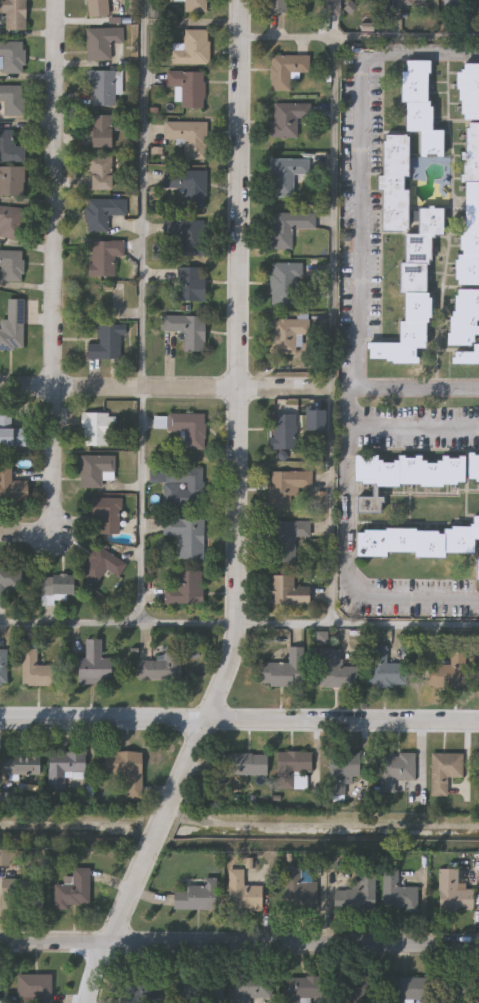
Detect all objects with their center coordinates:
building: (461, 0)
building: (406, 3)
building: (194, 6)
building: (281, 7)
building: (332, 8)
building: (97, 9)
building: (13, 15)
road: (358, 39)
building: (102, 44)
building: (192, 50)
road: (420, 57)
building: (12, 60)
building: (287, 71)
building: (188, 89)
building: (103, 90)
building: (467, 94)
building: (11, 102)
building: (421, 107)
building: (287, 121)
building: (101, 133)
building: (188, 140)
building: (9, 151)
building: (100, 175)
building: (287, 177)
building: (11, 184)
building: (187, 188)
building: (470, 213)
building: (102, 215)
road: (360, 223)
building: (10, 224)
building: (287, 229)
building: (187, 238)
building: (407, 254)
building: (104, 259)
road: (48, 264)
building: (11, 267)
building: (286, 285)
building: (190, 286)
road: (140, 312)
building: (465, 326)
road: (334, 331)
building: (187, 332)
building: (12, 334)
building: (287, 336)
building: (105, 345)
road: (418, 389)
road: (166, 392)
building: (157, 425)
road: (413, 427)
building: (15, 429)
building: (188, 431)
building: (94, 433)
building: (284, 433)
building: (312, 435)
building: (473, 468)
building: (94, 473)
building: (408, 473)
road: (347, 487)
building: (287, 488)
building: (183, 489)
building: (11, 490)
building: (368, 507)
road: (237, 516)
building: (105, 519)
road: (23, 533)
building: (187, 539)
building: (417, 541)
building: (286, 542)
building: (101, 567)
building: (477, 569)
building: (8, 583)
building: (183, 589)
building: (54, 590)
building: (287, 593)
road: (416, 601)
road: (239, 625)
building: (93, 666)
building: (158, 668)
building: (3, 669)
building: (37, 671)
building: (284, 672)
building: (335, 672)
building: (389, 672)
building: (449, 674)
road: (239, 721)
building: (293, 764)
building: (241, 765)
building: (64, 769)
building: (20, 770)
building: (124, 772)
building: (395, 772)
building: (341, 773)
building: (444, 773)
building: (298, 786)
building: (300, 890)
building: (73, 892)
building: (241, 894)
building: (453, 894)
building: (20, 895)
building: (397, 895)
building: (357, 897)
building: (195, 898)
road: (239, 945)
building: (33, 988)
building: (202, 989)
building: (305, 989)
building: (252, 990)
building: (355, 990)
building: (406, 990)
building: (460, 991)
building: (140, 992)

